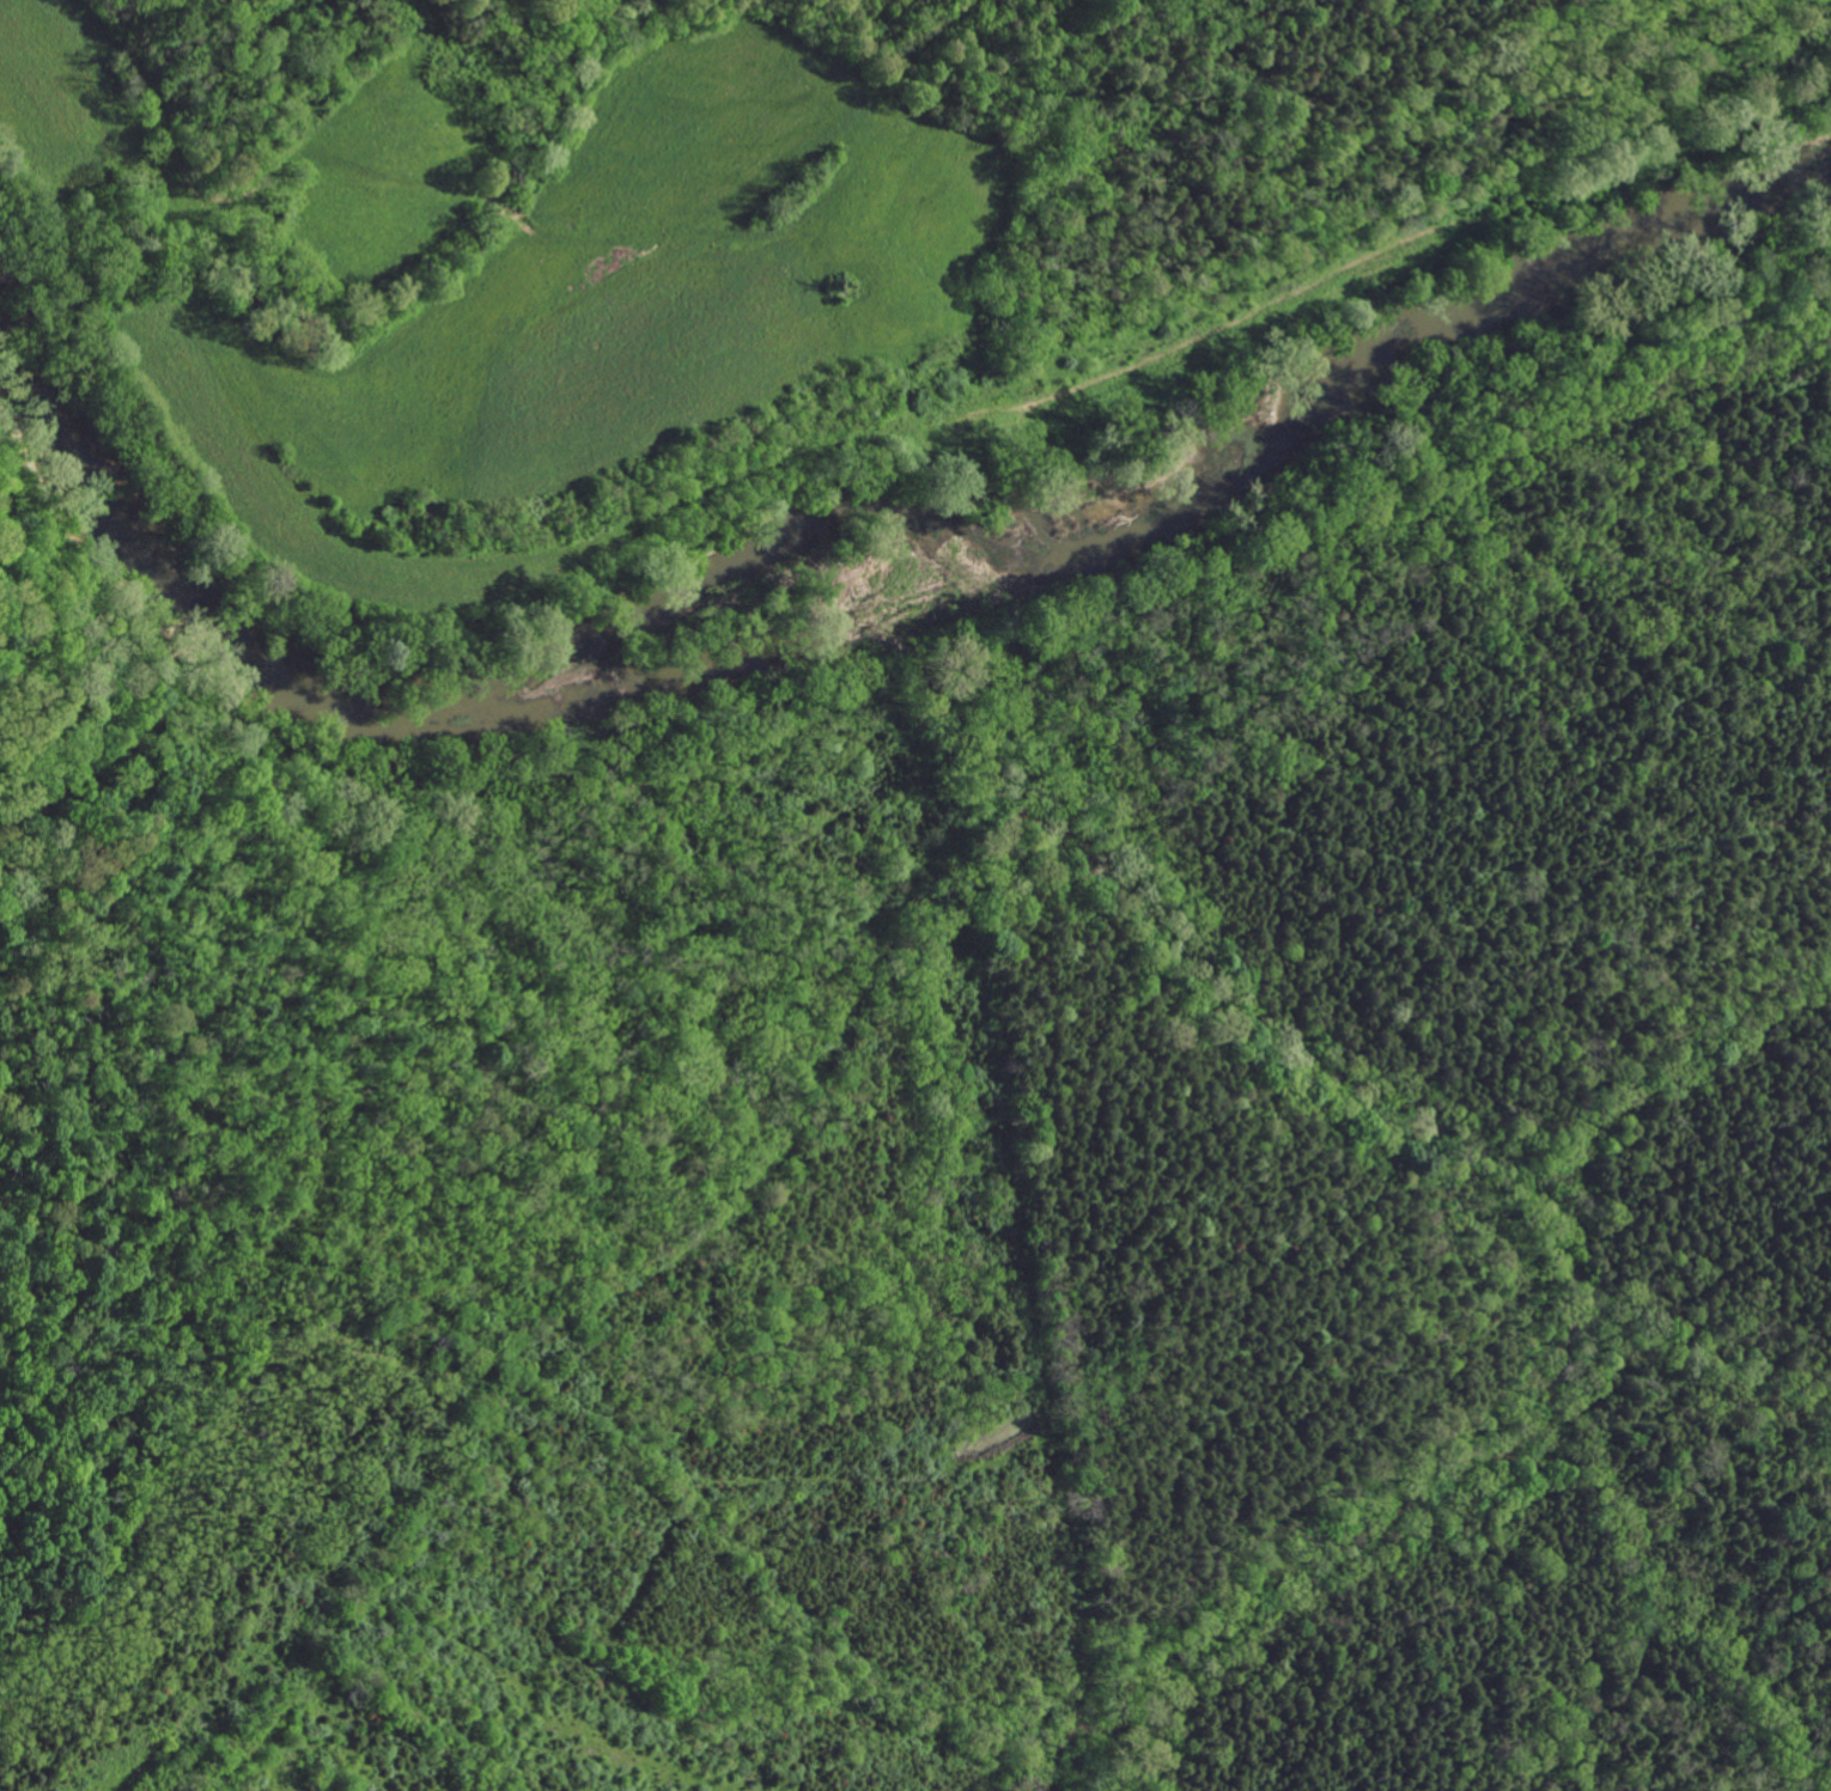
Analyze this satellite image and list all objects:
road: (248, 188)
river: (880, 604)

